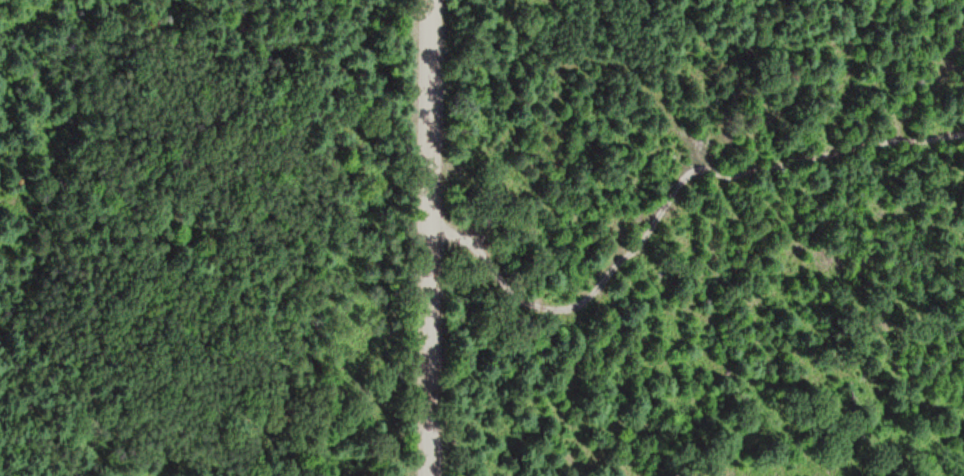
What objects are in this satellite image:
road: (431, 104)
road: (666, 202)
road: (427, 341)

